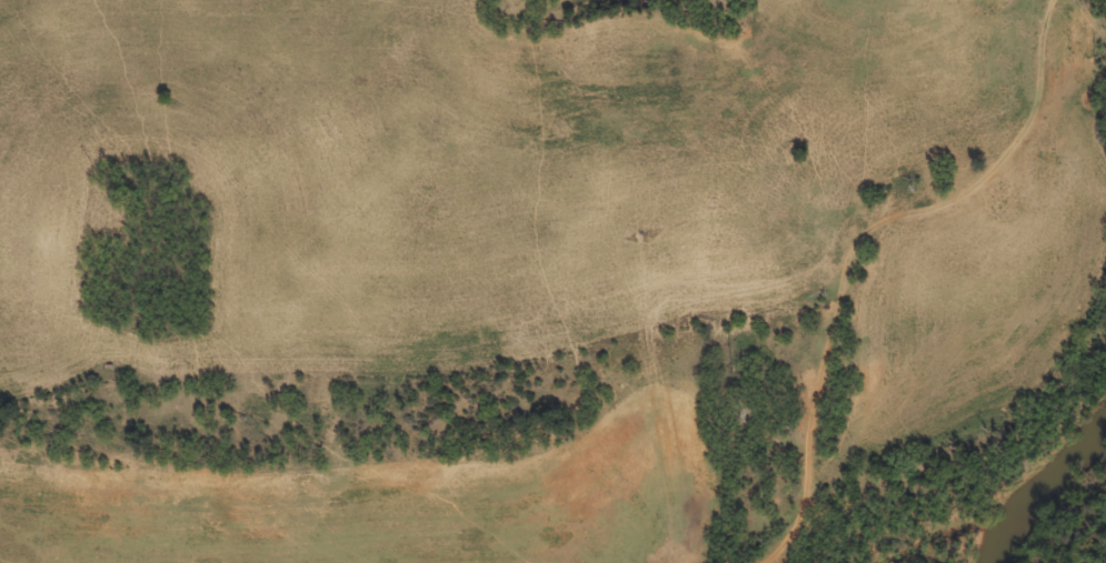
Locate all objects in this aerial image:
road: (995, 318)
river: (1037, 485)

